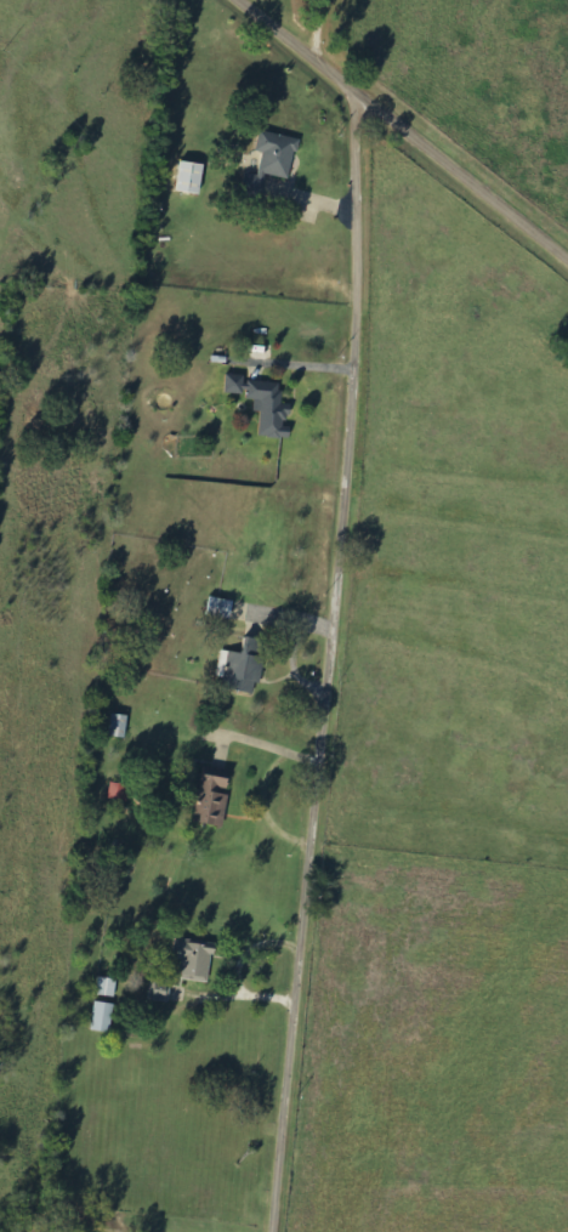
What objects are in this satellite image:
road: (399, 131)
building: (272, 163)
building: (192, 178)
building: (263, 404)
building: (221, 608)
road: (324, 665)
building: (244, 666)
building: (120, 727)
building: (120, 793)
building: (211, 801)
building: (194, 959)
building: (107, 987)
building: (160, 989)
building: (103, 1017)

